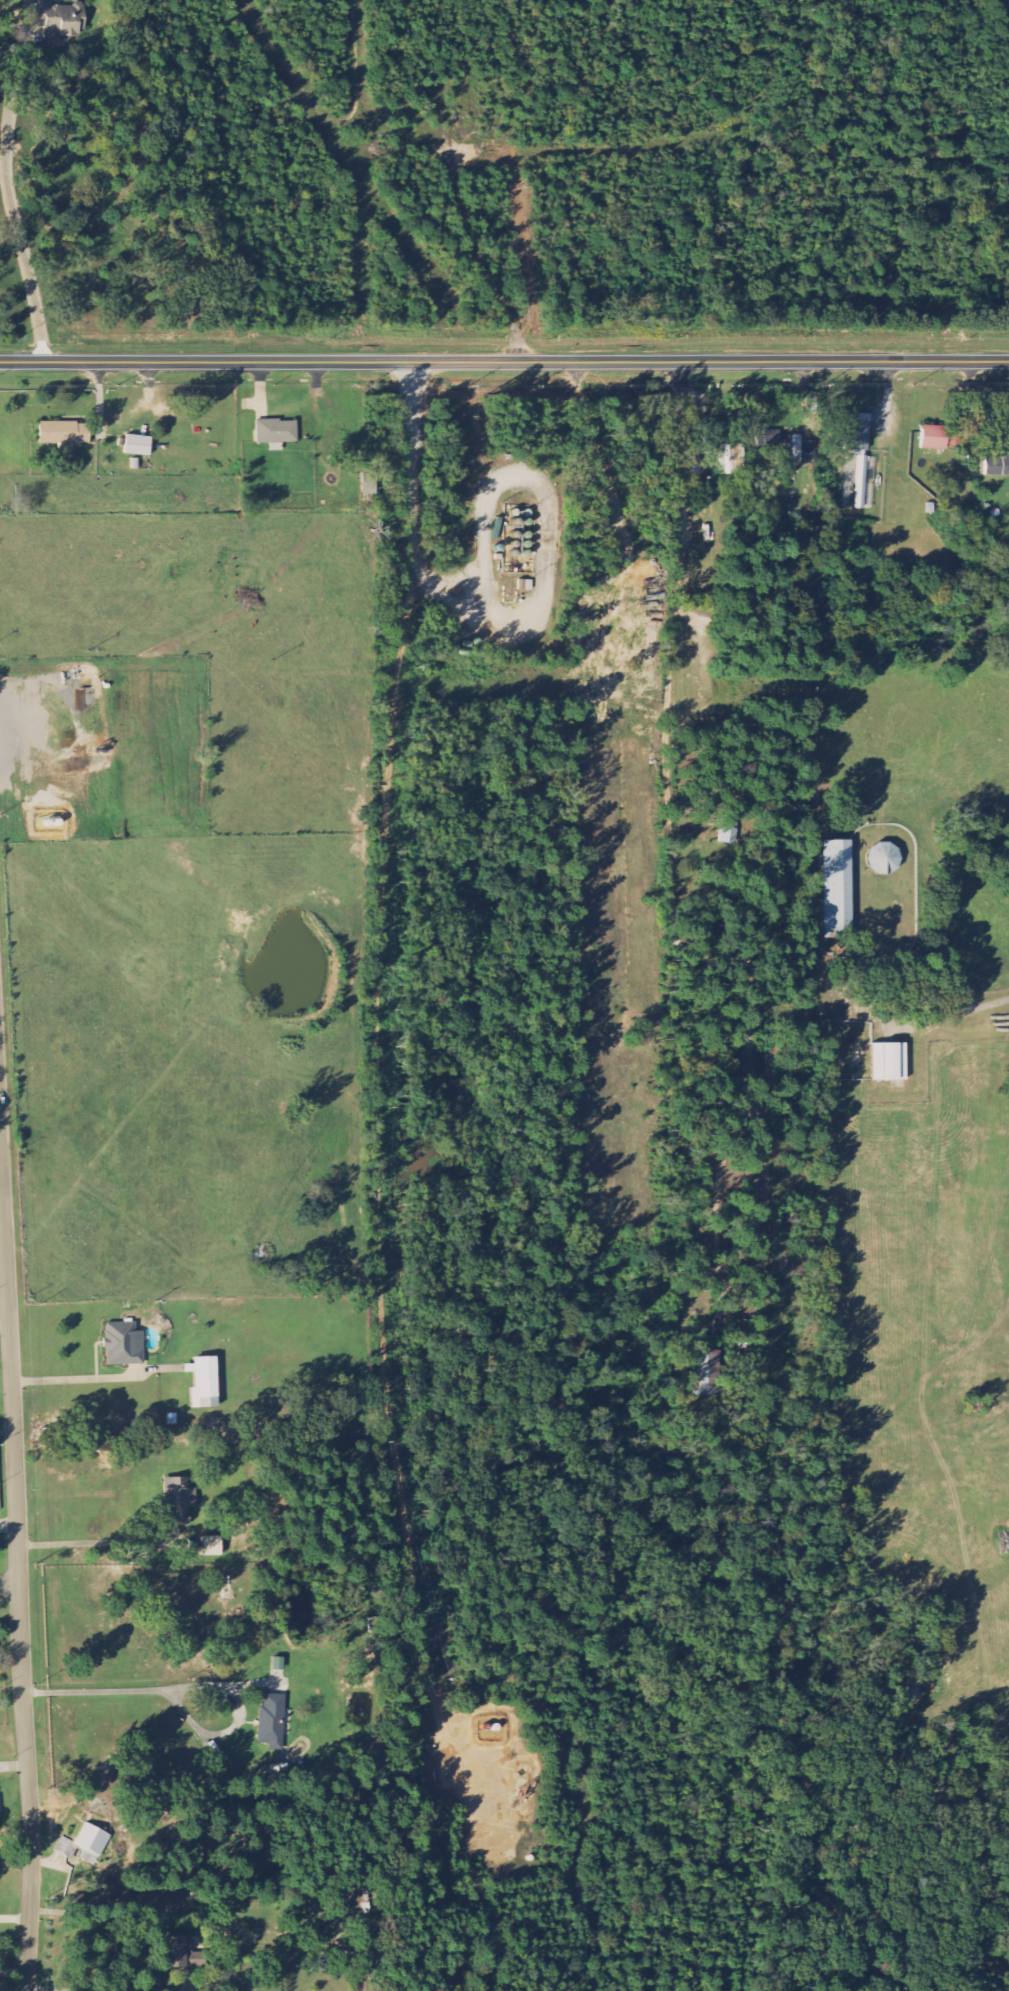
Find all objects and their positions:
building: (61, 21)
road: (8, 181)
road: (504, 362)
building: (857, 432)
building: (277, 433)
building: (65, 434)
building: (935, 438)
building: (138, 445)
building: (723, 447)
building: (783, 449)
building: (692, 460)
building: (998, 466)
building: (861, 482)
building: (730, 829)
building: (885, 859)
building: (837, 888)
building: (889, 1063)
building: (124, 1344)
building: (708, 1373)
building: (207, 1382)
building: (179, 1501)
building: (212, 1546)
road: (18, 1577)
road: (9, 1584)
building: (272, 1721)
building: (92, 1840)
building: (369, 1942)
building: (180, 1954)

